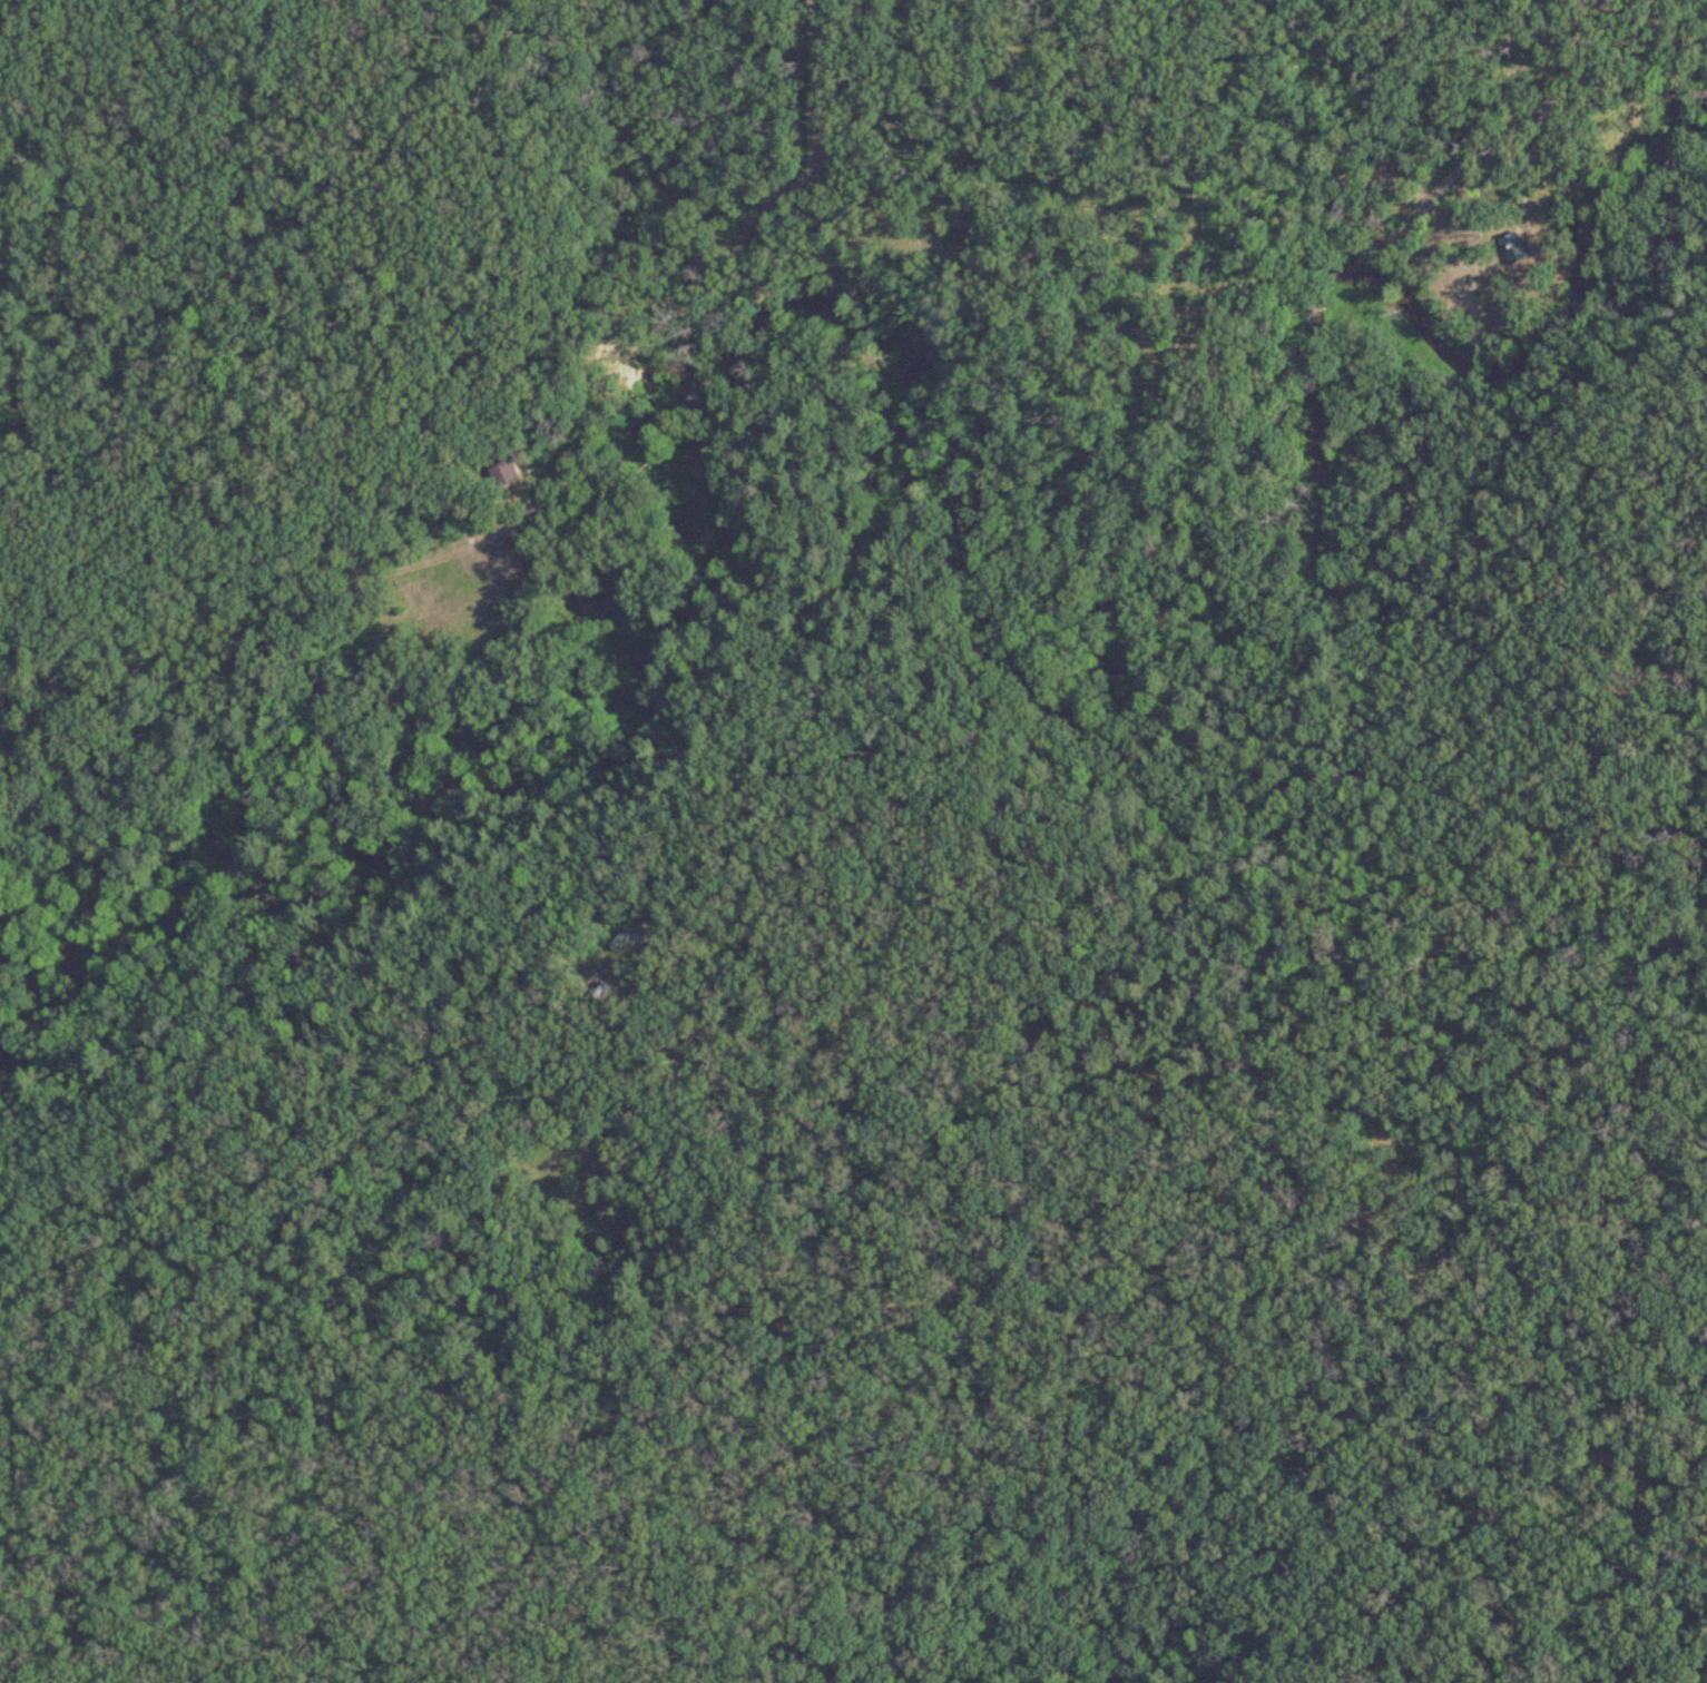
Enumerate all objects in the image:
building: (1512, 248)
building: (503, 473)

